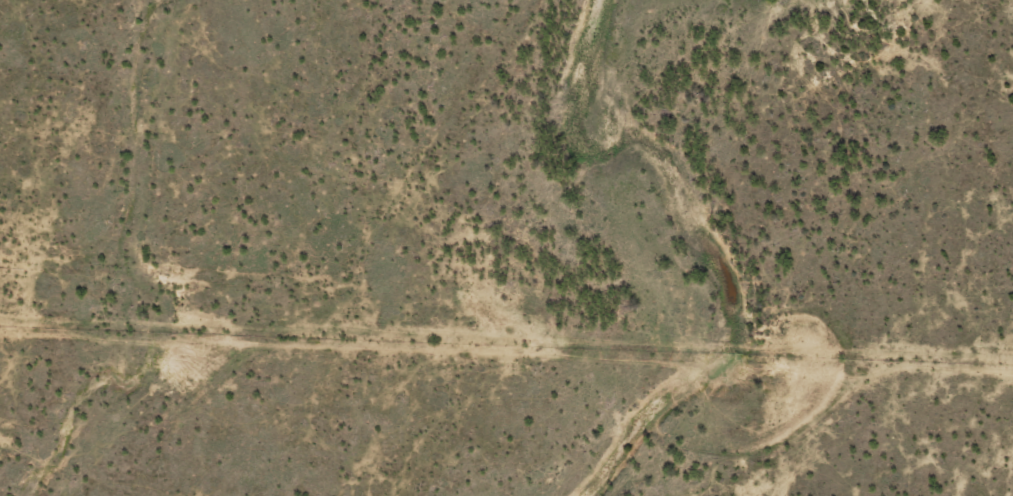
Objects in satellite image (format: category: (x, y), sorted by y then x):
road: (976, 99)

